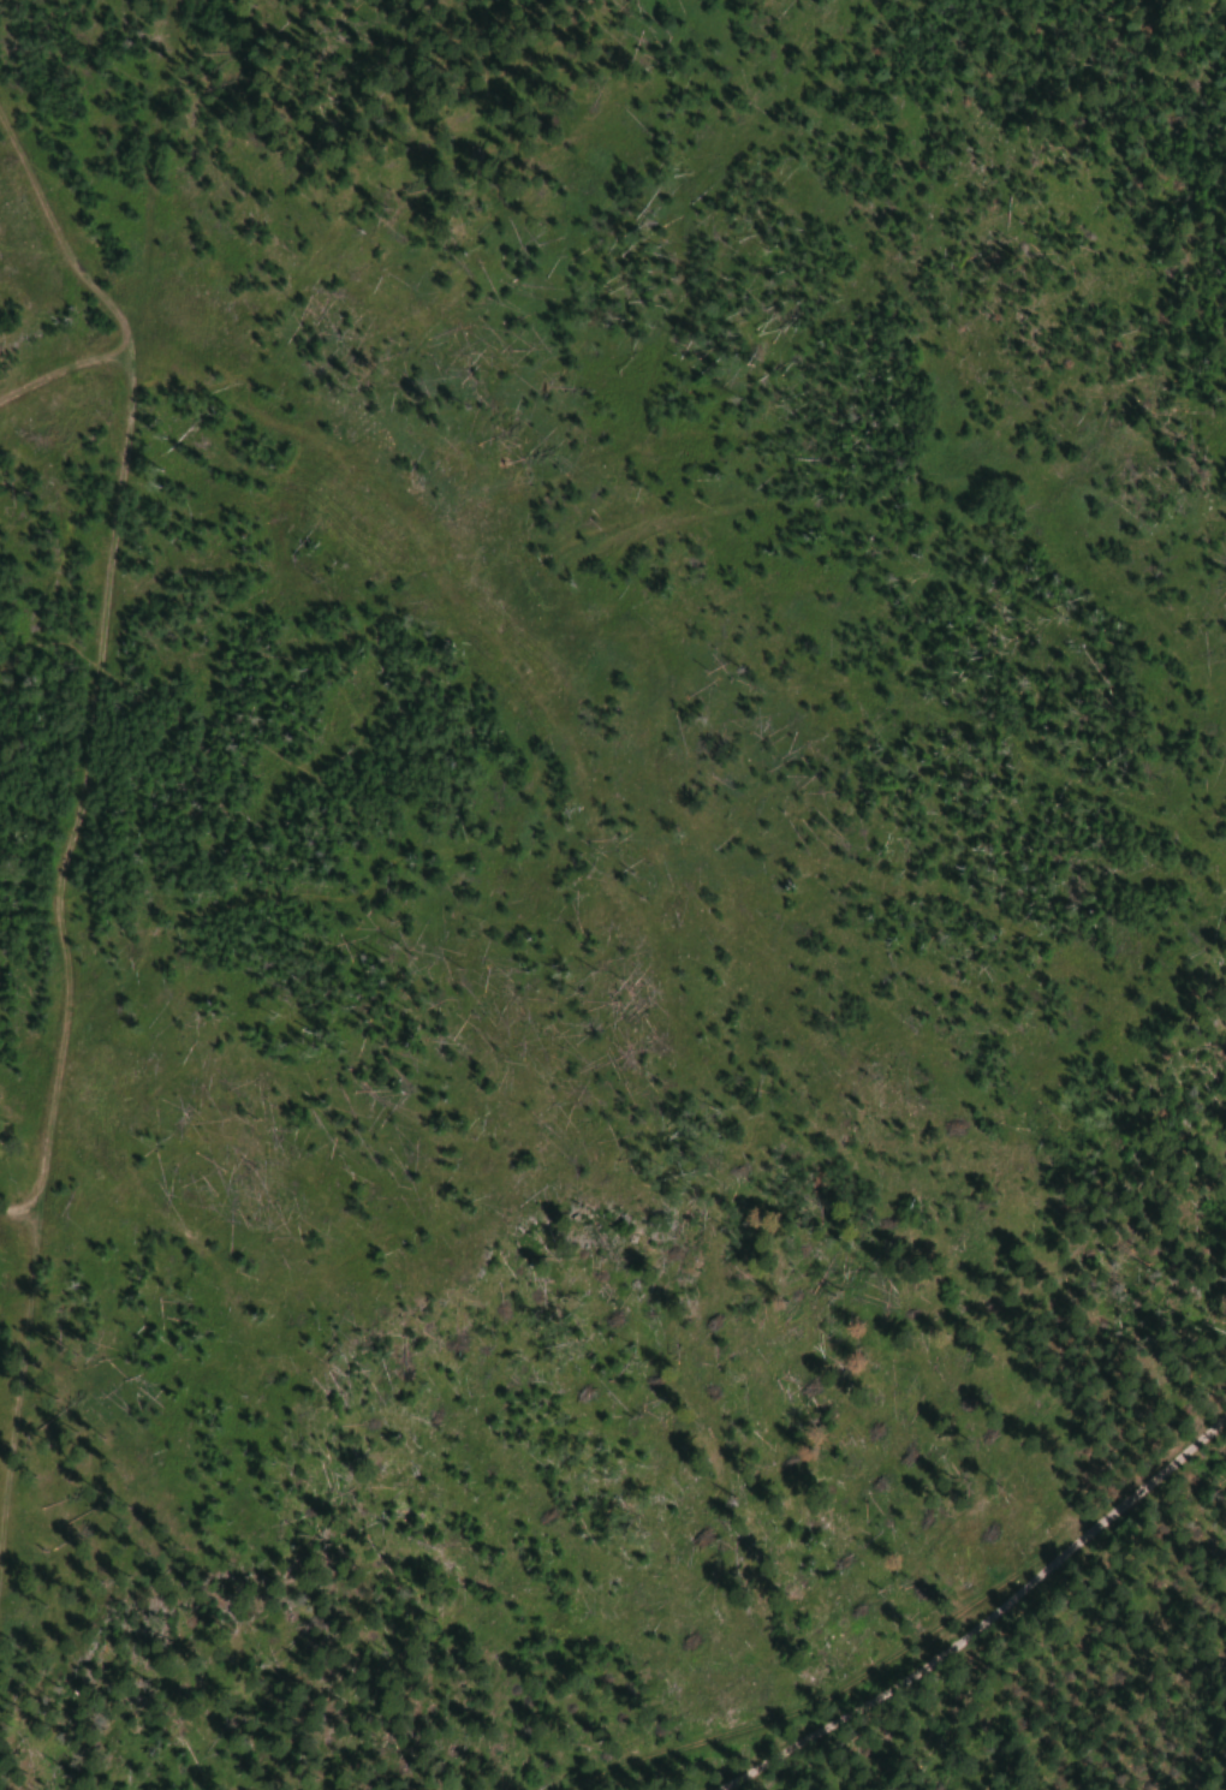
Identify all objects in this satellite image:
road: (67, 379)
road: (69, 822)
road: (983, 1614)

